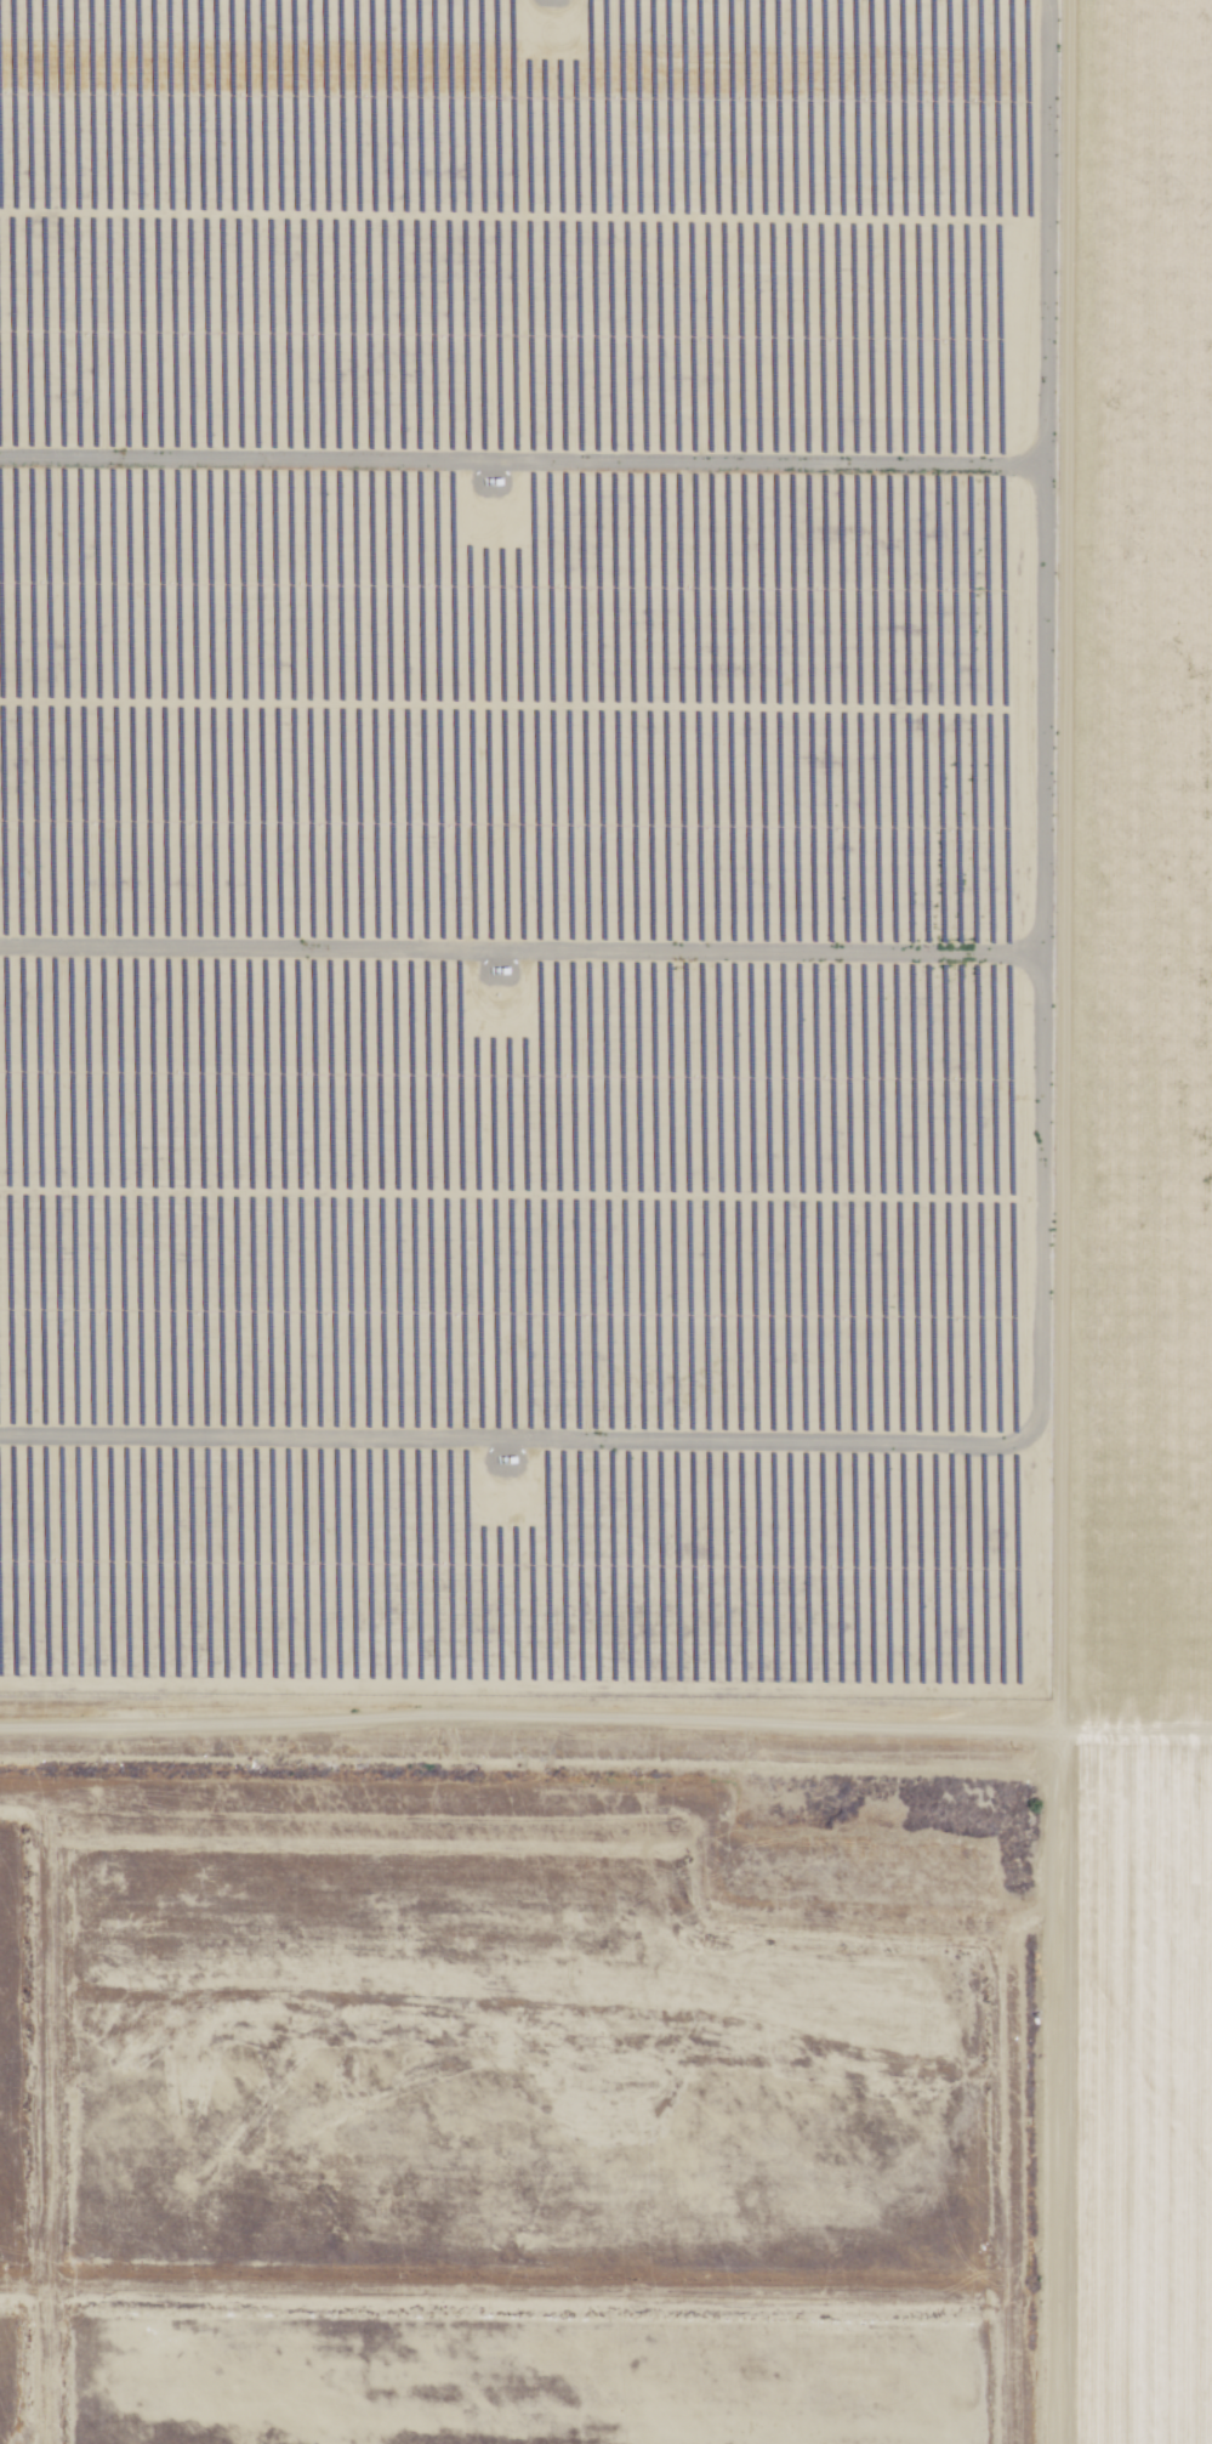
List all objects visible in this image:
solar farm: (523, 846)
road: (1085, 864)
road: (525, 1724)
road: (1131, 1730)
road: (1051, 2087)

